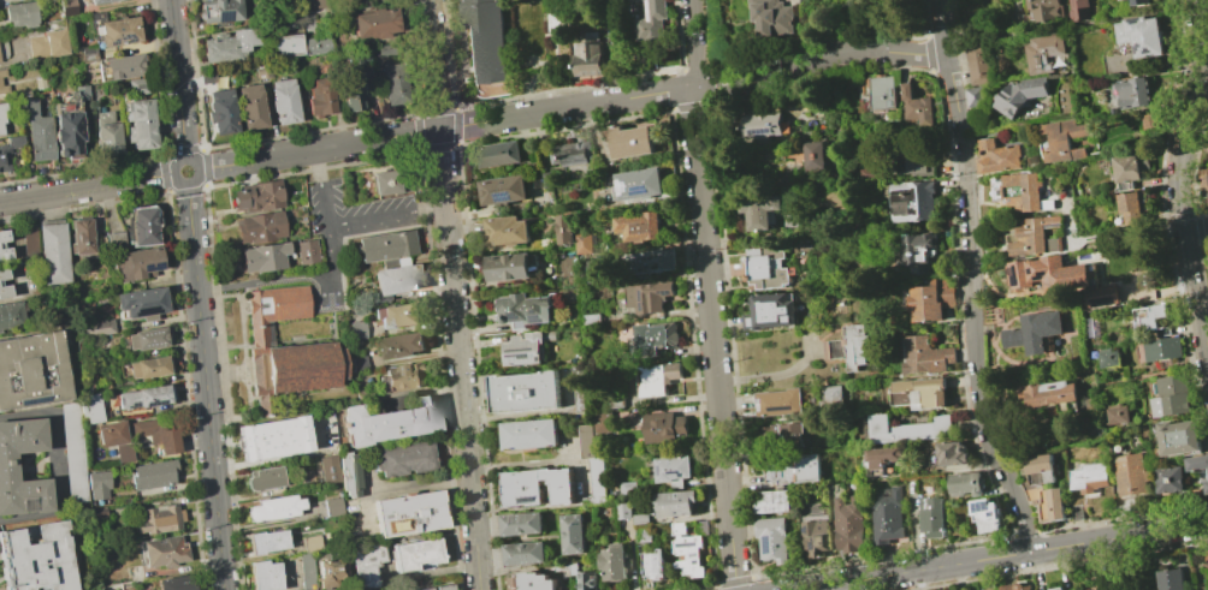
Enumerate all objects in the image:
building: (636, 0)
building: (97, 1)
building: (1139, 1)
building: (312, 4)
building: (1044, 8)
building: (1079, 8)
building: (219, 10)
building: (20, 14)
rooftop solar panel: (220, 14)
building: (558, 14)
building: (771, 17)
building: (651, 19)
building: (374, 23)
road: (942, 26)
building: (118, 31)
building: (1141, 35)
rooftop solar panel: (120, 36)
building: (484, 41)
building: (47, 44)
building: (231, 44)
building: (301, 46)
building: (1043, 52)
building: (588, 58)
building: (124, 66)
building: (978, 67)
building: (1, 72)
road: (176, 79)
building: (135, 87)
building: (393, 87)
building: (4, 88)
building: (350, 90)
building: (1133, 91)
building: (81, 93)
building: (881, 93)
building: (1019, 95)
building: (321, 96)
building: (973, 96)
building: (283, 101)
building: (913, 106)
building: (250, 107)
road: (573, 107)
building: (220, 112)
building: (1, 115)
building: (1150, 120)
building: (140, 124)
building: (760, 126)
building: (66, 129)
rooftop solar panel: (760, 131)
building: (37, 132)
building: (105, 133)
building: (1065, 138)
building: (16, 141)
building: (629, 141)
building: (572, 153)
building: (499, 154)
building: (4, 156)
building: (812, 156)
building: (996, 157)
building: (919, 160)
road: (1195, 161)
building: (1127, 167)
building: (870, 173)
road: (1182, 178)
building: (1204, 178)
building: (395, 180)
road: (184, 184)
building: (639, 184)
rooftop solar panel: (623, 186)
road: (85, 187)
rooftop solar panel: (639, 189)
building: (502, 190)
building: (1020, 191)
rooftop solar panel: (505, 195)
building: (257, 196)
building: (830, 198)
building: (912, 201)
building: (1131, 207)
building: (758, 210)
road: (1163, 211)
road: (351, 221)
building: (142, 226)
building: (639, 226)
building: (260, 227)
parking lot: (348, 227)
building: (564, 230)
road: (1197, 230)
building: (505, 231)
building: (2, 236)
building: (79, 236)
building: (1036, 236)
building: (114, 240)
building: (584, 243)
building: (28, 244)
building: (385, 245)
building: (919, 248)
building: (306, 251)
building: (4, 254)
building: (52, 254)
building: (262, 257)
building: (652, 261)
building: (136, 263)
building: (508, 266)
building: (597, 268)
rooftop solar panel: (152, 269)
rooftop solar panel: (1034, 270)
building: (763, 272)
building: (1048, 273)
building: (2, 274)
rooftop solar panel: (1042, 274)
road: (289, 276)
rooftop solar panel: (1018, 276)
building: (393, 280)
building: (4, 291)
road: (455, 294)
road: (710, 294)
building: (649, 296)
building: (1102, 296)
building: (930, 300)
building: (140, 302)
road: (972, 306)
building: (525, 310)
rooftop solar panel: (535, 310)
building: (772, 310)
building: (10, 314)
rooftop solar panel: (517, 314)
building: (398, 315)
rooftop solar panel: (538, 318)
building: (1156, 320)
building: (94, 328)
building: (1034, 330)
building: (147, 338)
building: (653, 338)
building: (402, 345)
building: (527, 347)
building: (848, 347)
building: (1163, 348)
building: (285, 350)
rooftop solar panel: (522, 350)
rooftop solar panel: (523, 356)
building: (924, 356)
road: (982, 356)
building: (1109, 357)
building: (146, 366)
building: (31, 370)
road: (776, 374)
building: (404, 376)
building: (656, 379)
road: (206, 386)
building: (580, 389)
building: (523, 392)
building: (918, 393)
building: (1049, 393)
building: (141, 397)
building: (830, 397)
building: (1172, 397)
rooftop solar panel: (118, 399)
rooftop solar panel: (30, 401)
building: (777, 401)
rooftop solar panel: (154, 403)
rooftop solar panel: (132, 404)
rooftop solar panel: (758, 404)
building: (89, 409)
rooftop solar panel: (782, 409)
road: (533, 412)
building: (1118, 415)
building: (389, 422)
building: (603, 422)
building: (663, 427)
building: (792, 428)
building: (907, 429)
building: (529, 434)
building: (155, 435)
building: (272, 437)
building: (1179, 437)
building: (114, 440)
building: (585, 441)
building: (72, 452)
building: (952, 453)
building: (882, 457)
building: (403, 458)
building: (1196, 463)
building: (6, 465)
road: (53, 465)
road: (521, 466)
rooftop solar panel: (771, 467)
rooftop solar panel: (778, 467)
building: (792, 469)
building: (328, 470)
rooftop solar panel: (657, 470)
building: (673, 470)
rooftop solar panel: (674, 471)
building: (1132, 473)
building: (152, 475)
building: (349, 475)
building: (263, 478)
building: (1088, 478)
building: (1168, 479)
building: (597, 481)
building: (966, 483)
building: (96, 484)
building: (537, 485)
building: (1206, 485)
building: (627, 488)
building: (1043, 488)
road: (401, 489)
rooftop solar panel: (529, 499)
building: (770, 501)
building: (674, 503)
rooftop solar panel: (981, 503)
building: (333, 507)
building: (273, 508)
building: (621, 511)
rooftop solar panel: (994, 513)
building: (409, 514)
building: (985, 514)
building: (887, 515)
building: (931, 517)
building: (159, 518)
building: (639, 518)
building: (521, 524)
building: (847, 524)
building: (700, 528)
rooftop solar panel: (805, 531)
building: (573, 534)
building: (641, 534)
building: (815, 534)
building: (771, 538)
building: (267, 542)
building: (310, 543)
rooftop solar panel: (766, 543)
rooftop solar panel: (816, 546)
building: (687, 550)
building: (164, 552)
building: (523, 553)
building: (415, 554)
road: (1003, 556)
building: (1206, 558)
building: (36, 559)
building: (614, 562)
building: (365, 565)
building: (652, 565)
building: (306, 571)
building: (331, 573)
building: (265, 576)
building: (1169, 579)
building: (585, 580)
building: (531, 582)
building: (174, 583)
building: (442, 586)
road: (835, 586)
building: (1015, 588)
building: (1100, 588)
building: (422, 589)
building: (1055, 589)
building: (1064, 589)
building: (1185, 589)

